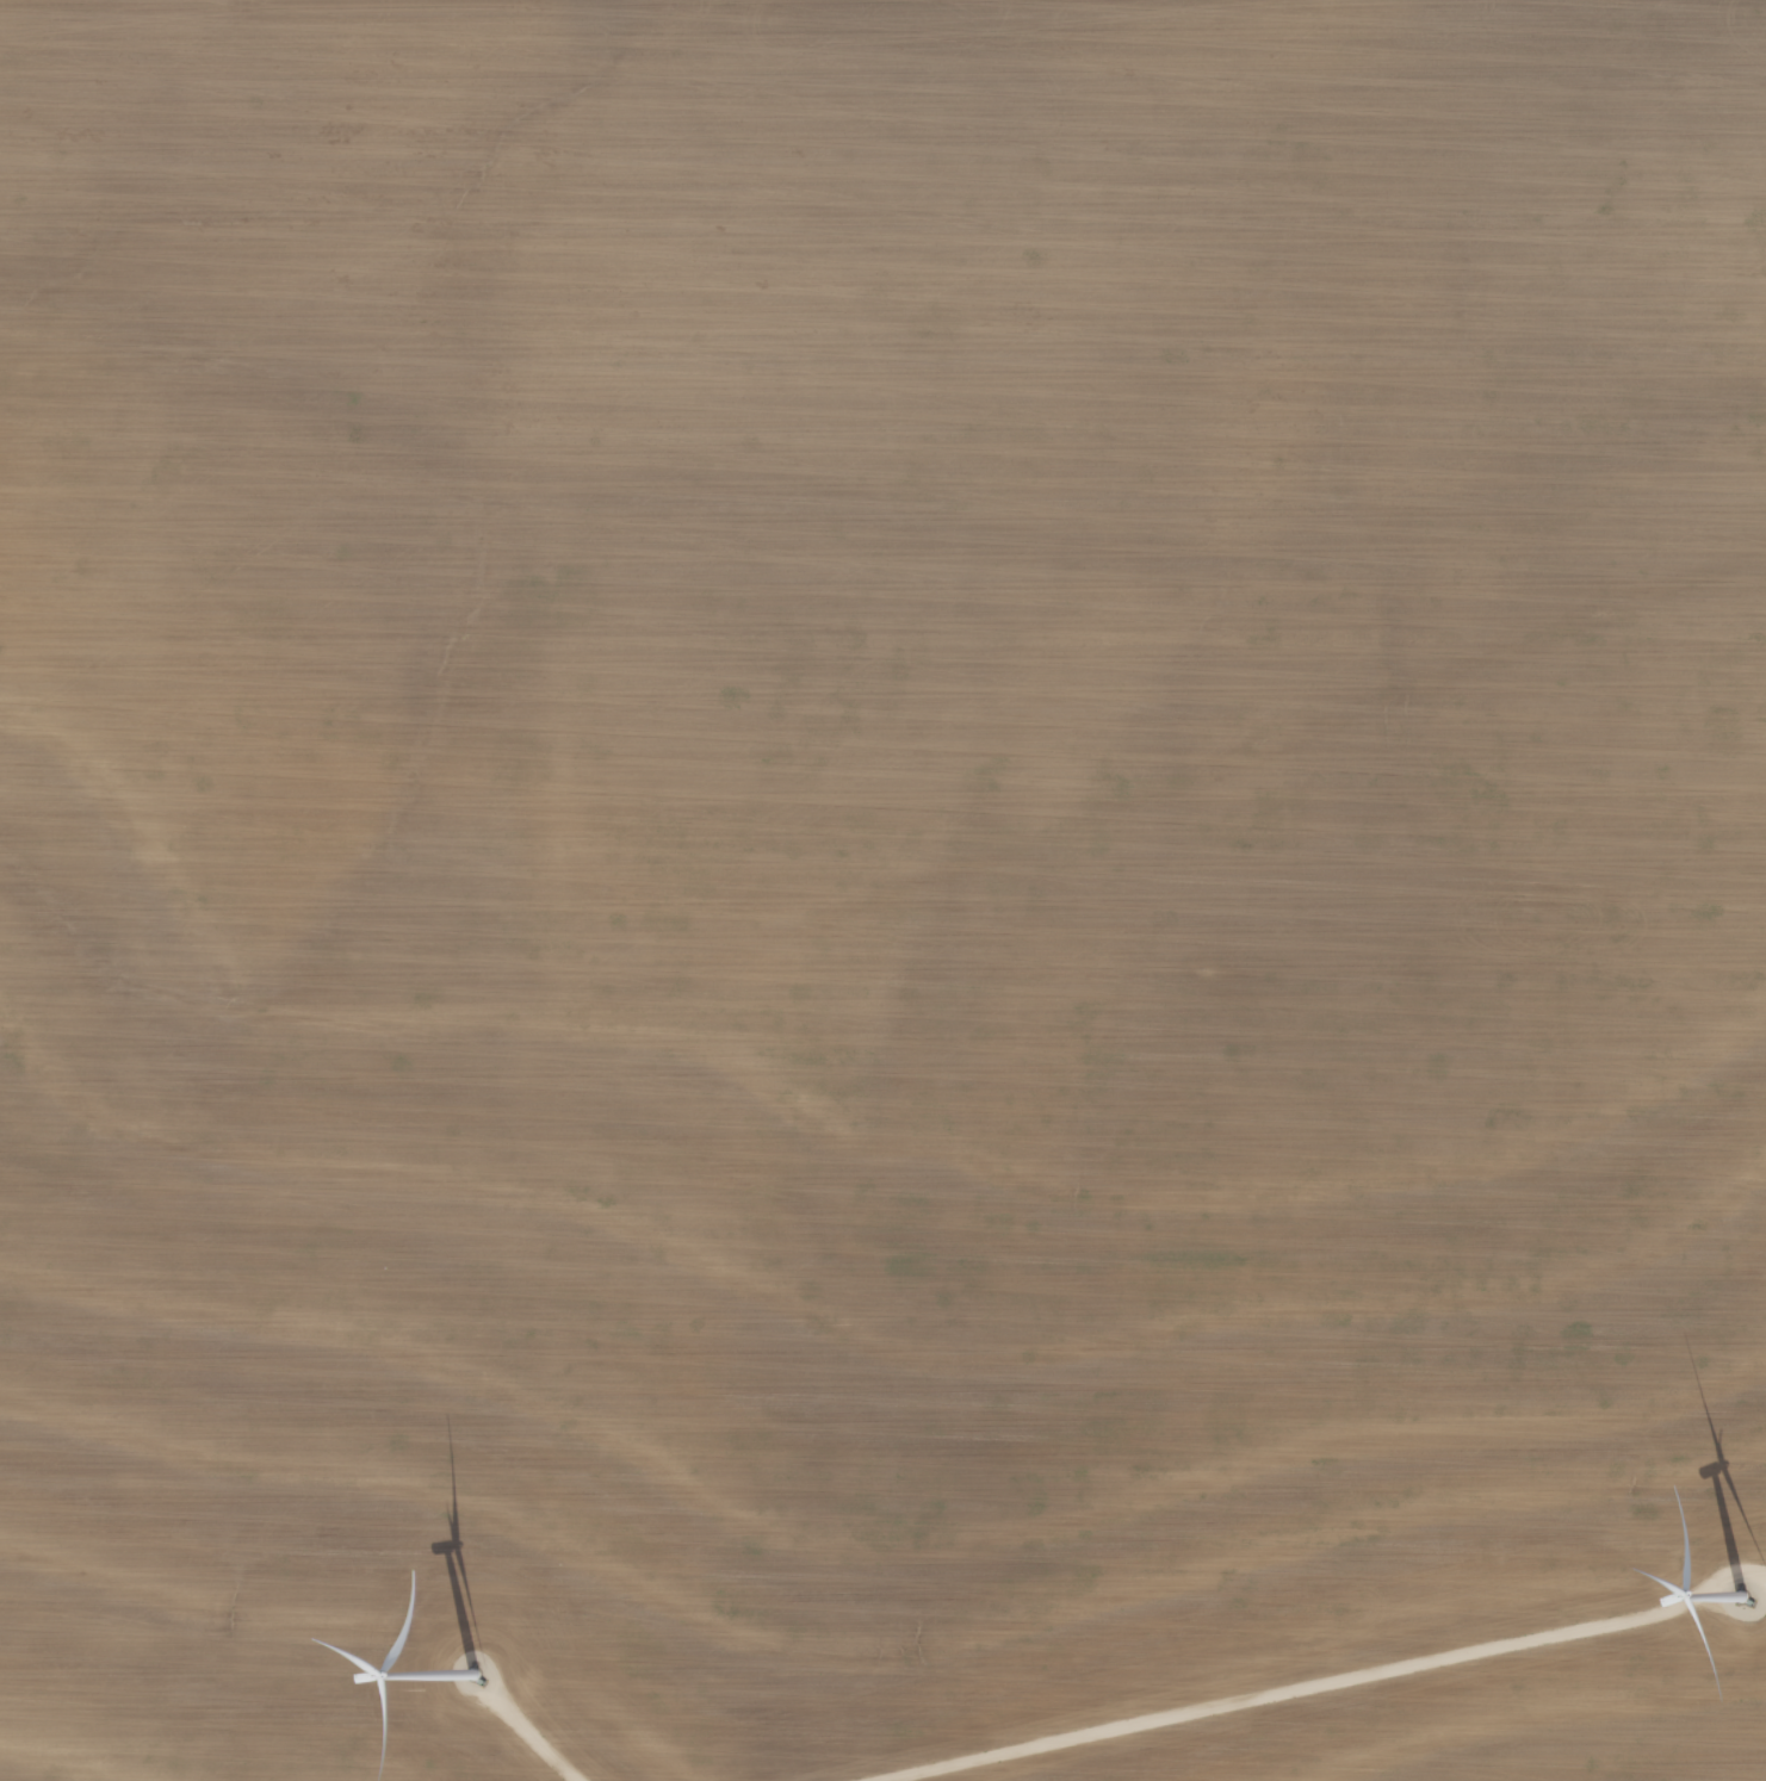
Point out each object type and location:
wind turbine: (1737, 1596)
wind turbine: (470, 1675)

